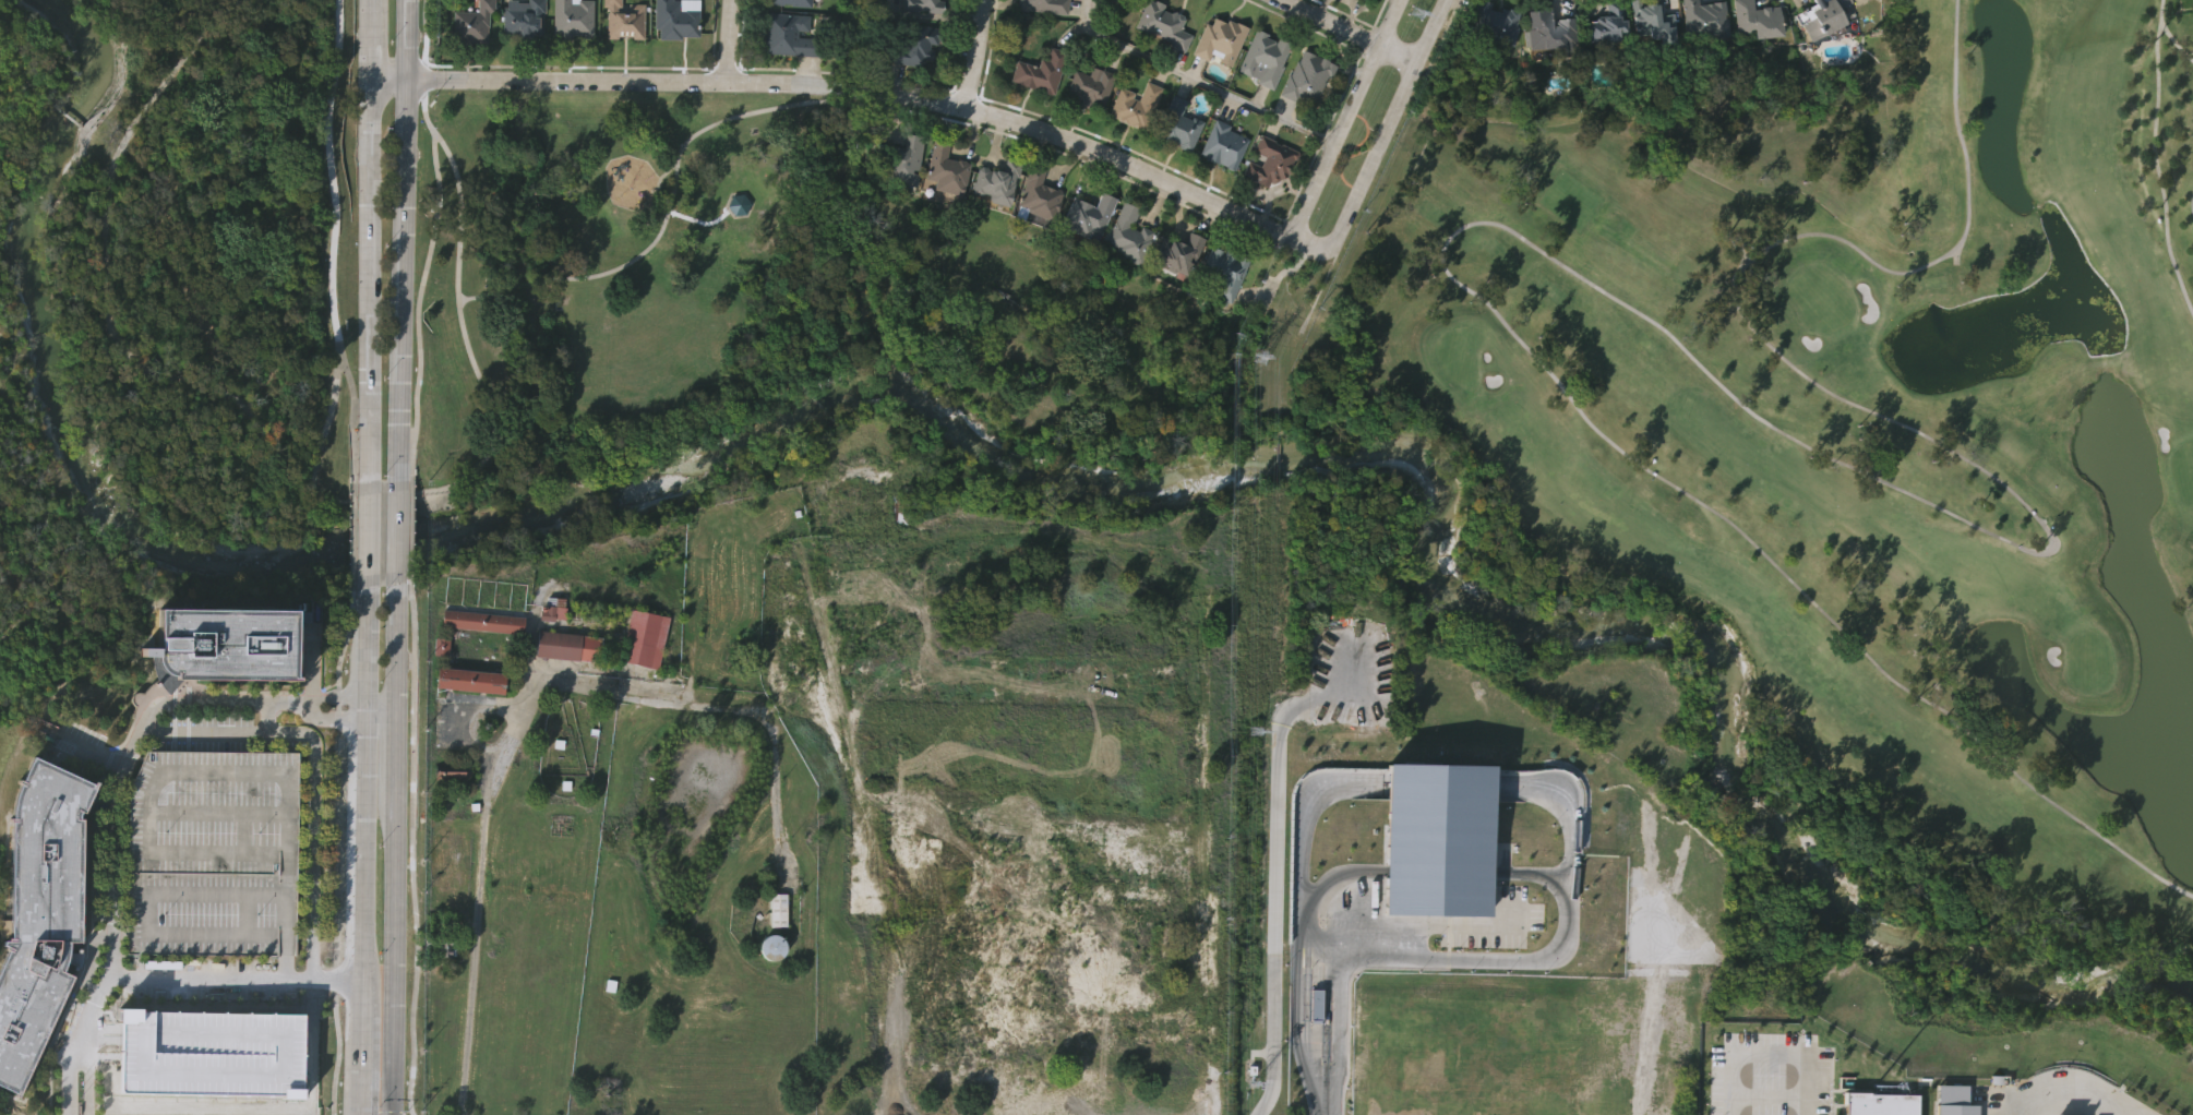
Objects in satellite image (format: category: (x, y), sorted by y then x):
building: (1365, 0)
building: (789, 2)
building: (924, 5)
building: (1044, 5)
power tower: (1415, 13)
building: (524, 15)
building: (575, 17)
building: (1820, 17)
building: (626, 20)
building: (673, 20)
building: (1650, 20)
building: (1703, 20)
building: (1754, 20)
building: (474, 21)
building: (1164, 25)
building: (1490, 25)
building: (1605, 26)
road: (1347, 32)
building: (1545, 32)
building: (788, 36)
building: (1220, 39)
road: (729, 40)
building: (914, 46)
road: (975, 55)
building: (1263, 57)
building: (1043, 71)
building: (1307, 76)
road: (1198, 82)
building: (1091, 86)
road: (867, 91)
building: (1135, 105)
road: (1345, 120)
building: (1177, 123)
road: (1388, 129)
building: (1223, 142)
road: (1057, 151)
building: (901, 158)
building: (1271, 159)
building: (946, 168)
road: (334, 170)
road: (667, 170)
building: (997, 181)
building: (1040, 195)
building: (738, 204)
building: (1087, 215)
road: (663, 223)
building: (1127, 233)
road: (403, 239)
road: (370, 240)
building: (1179, 252)
park: (185, 261)
building: (1225, 272)
building: (490, 280)
road: (506, 283)
road: (103, 287)
park: (613, 299)
road: (418, 305)
power tower: (1261, 361)
road: (120, 386)
road: (129, 407)
park: (1706, 415)
road: (480, 463)
building: (855, 520)
road: (398, 524)
road: (368, 528)
building: (553, 609)
building: (867, 609)
building: (481, 621)
building: (645, 639)
building: (230, 645)
building: (567, 645)
road: (1256, 675)
building: (470, 681)
road: (307, 683)
road: (221, 697)
road: (350, 698)
road: (267, 715)
road: (350, 716)
power tower: (1251, 733)
road: (288, 741)
building: (450, 769)
road: (412, 802)
road: (340, 842)
road: (391, 842)
road: (363, 844)
building: (1433, 844)
building: (1518, 848)
building: (211, 853)
parking garage: (211, 853)
road: (113, 871)
road: (479, 901)
building: (778, 910)
building: (38, 913)
building: (1687, 920)
building: (1423, 922)
road: (310, 928)
building: (1128, 930)
building: (442, 942)
building: (770, 947)
road: (1357, 957)
building: (1009, 962)
road: (285, 968)
road: (232, 979)
building: (1561, 1042)
parking lot: (205, 1045)
road: (1773, 1048)
power tower: (1256, 1068)
building: (1424, 1068)
road: (64, 1083)
road: (86, 1083)
road: (2069, 1086)
building: (1955, 1100)
building: (1880, 1103)

